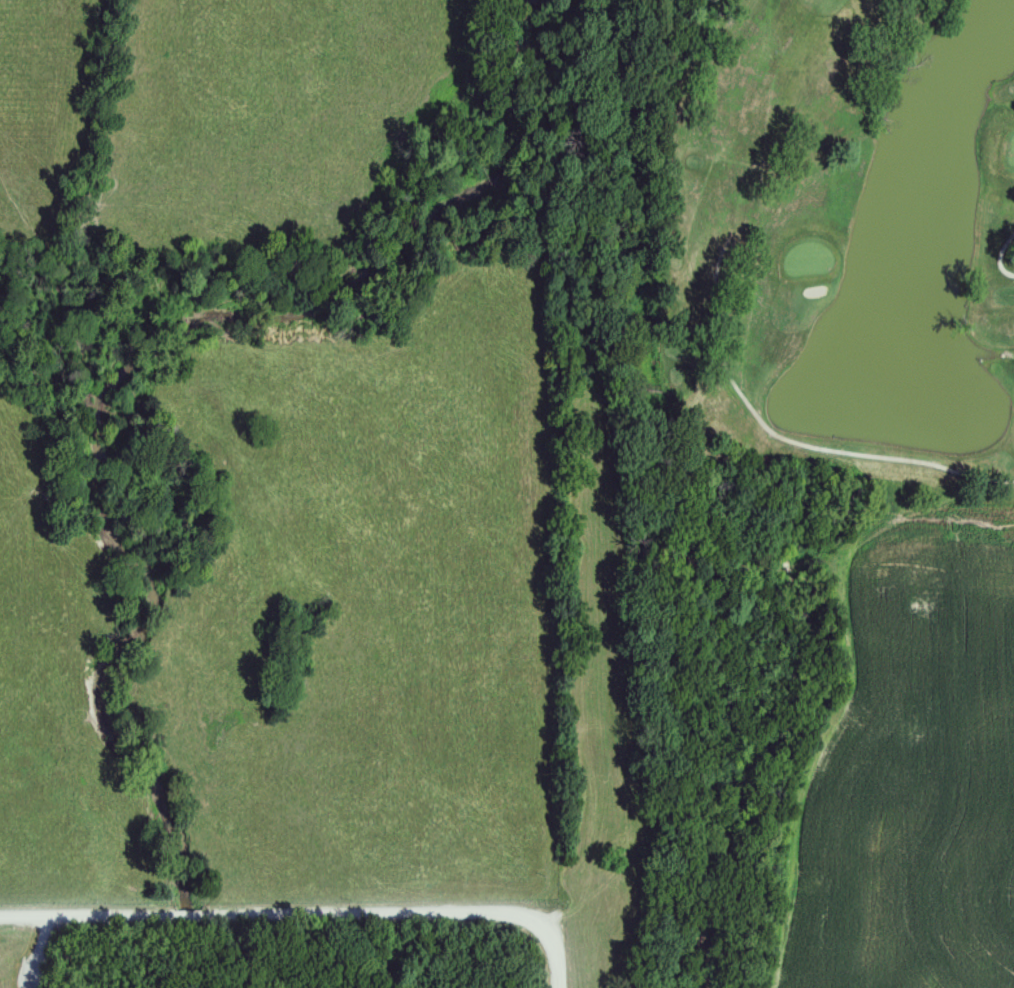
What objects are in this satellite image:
park: (844, 247)
road: (1000, 253)
road: (837, 448)
road: (306, 913)

